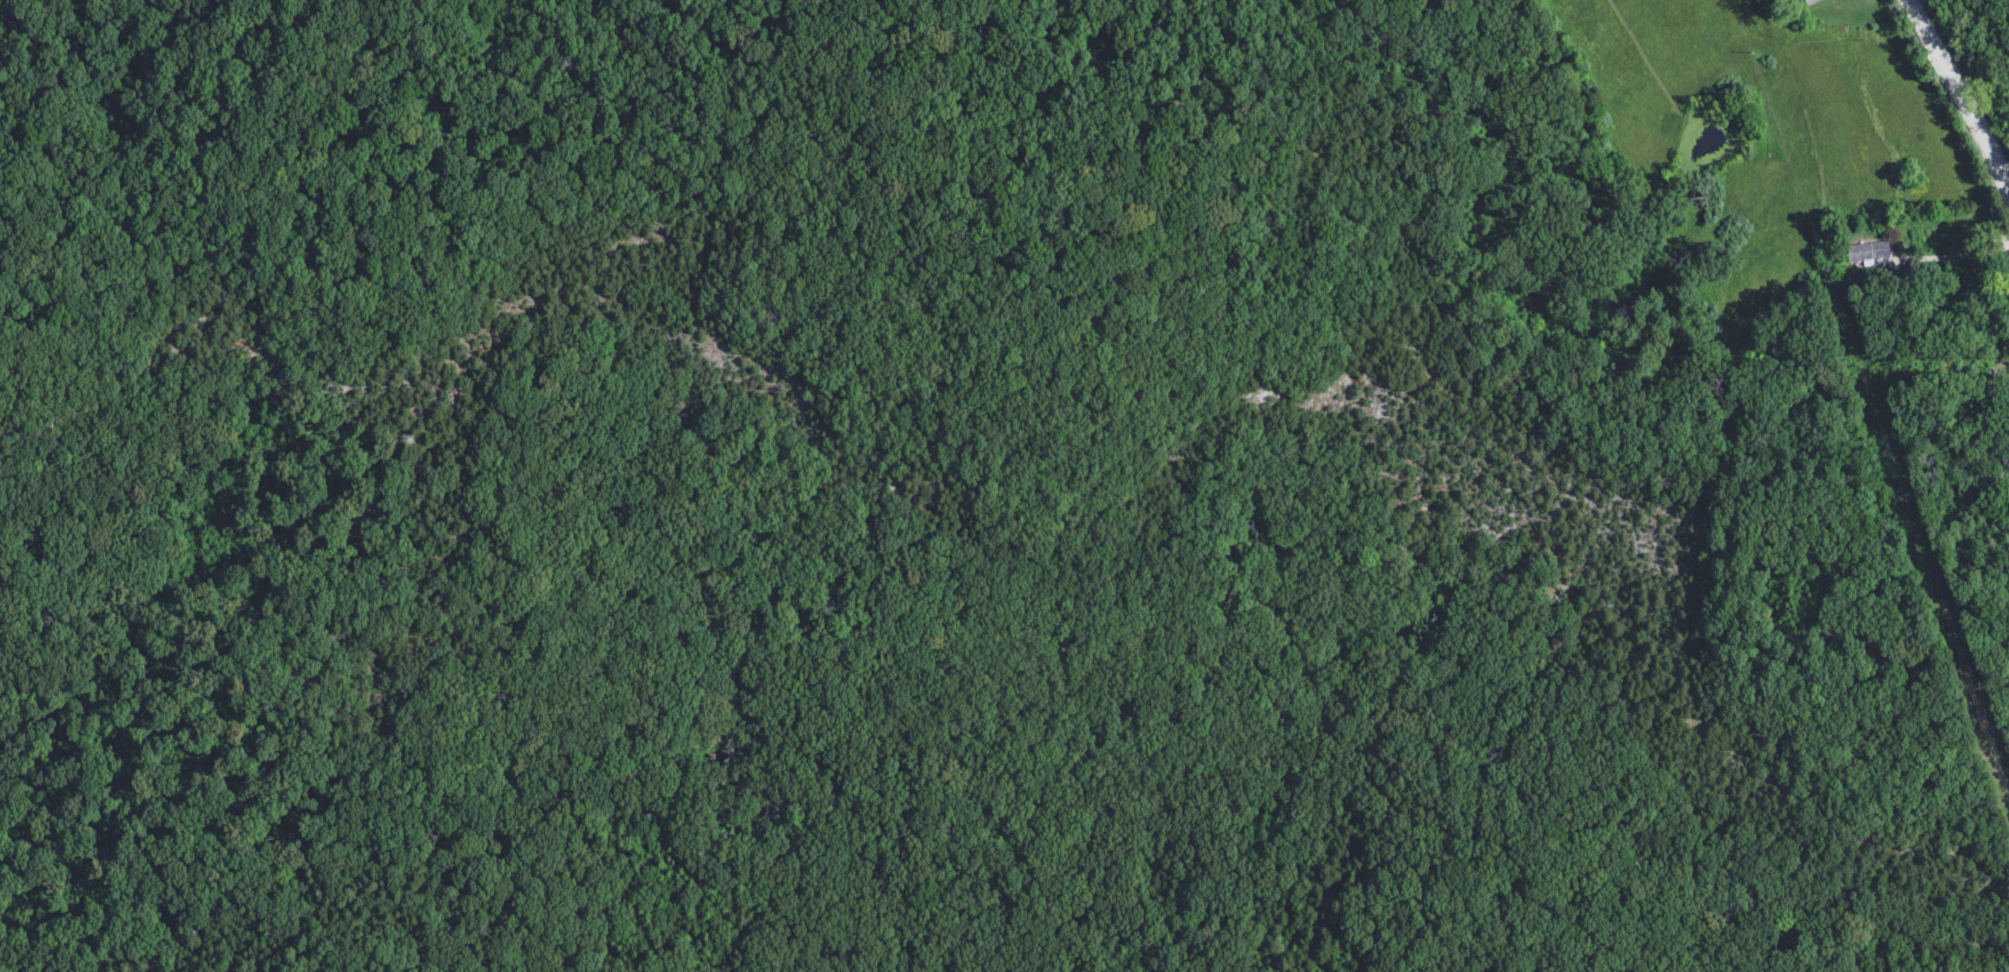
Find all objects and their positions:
building: (1809, 2)
road: (1961, 90)
building: (1869, 255)
road: (1945, 263)

